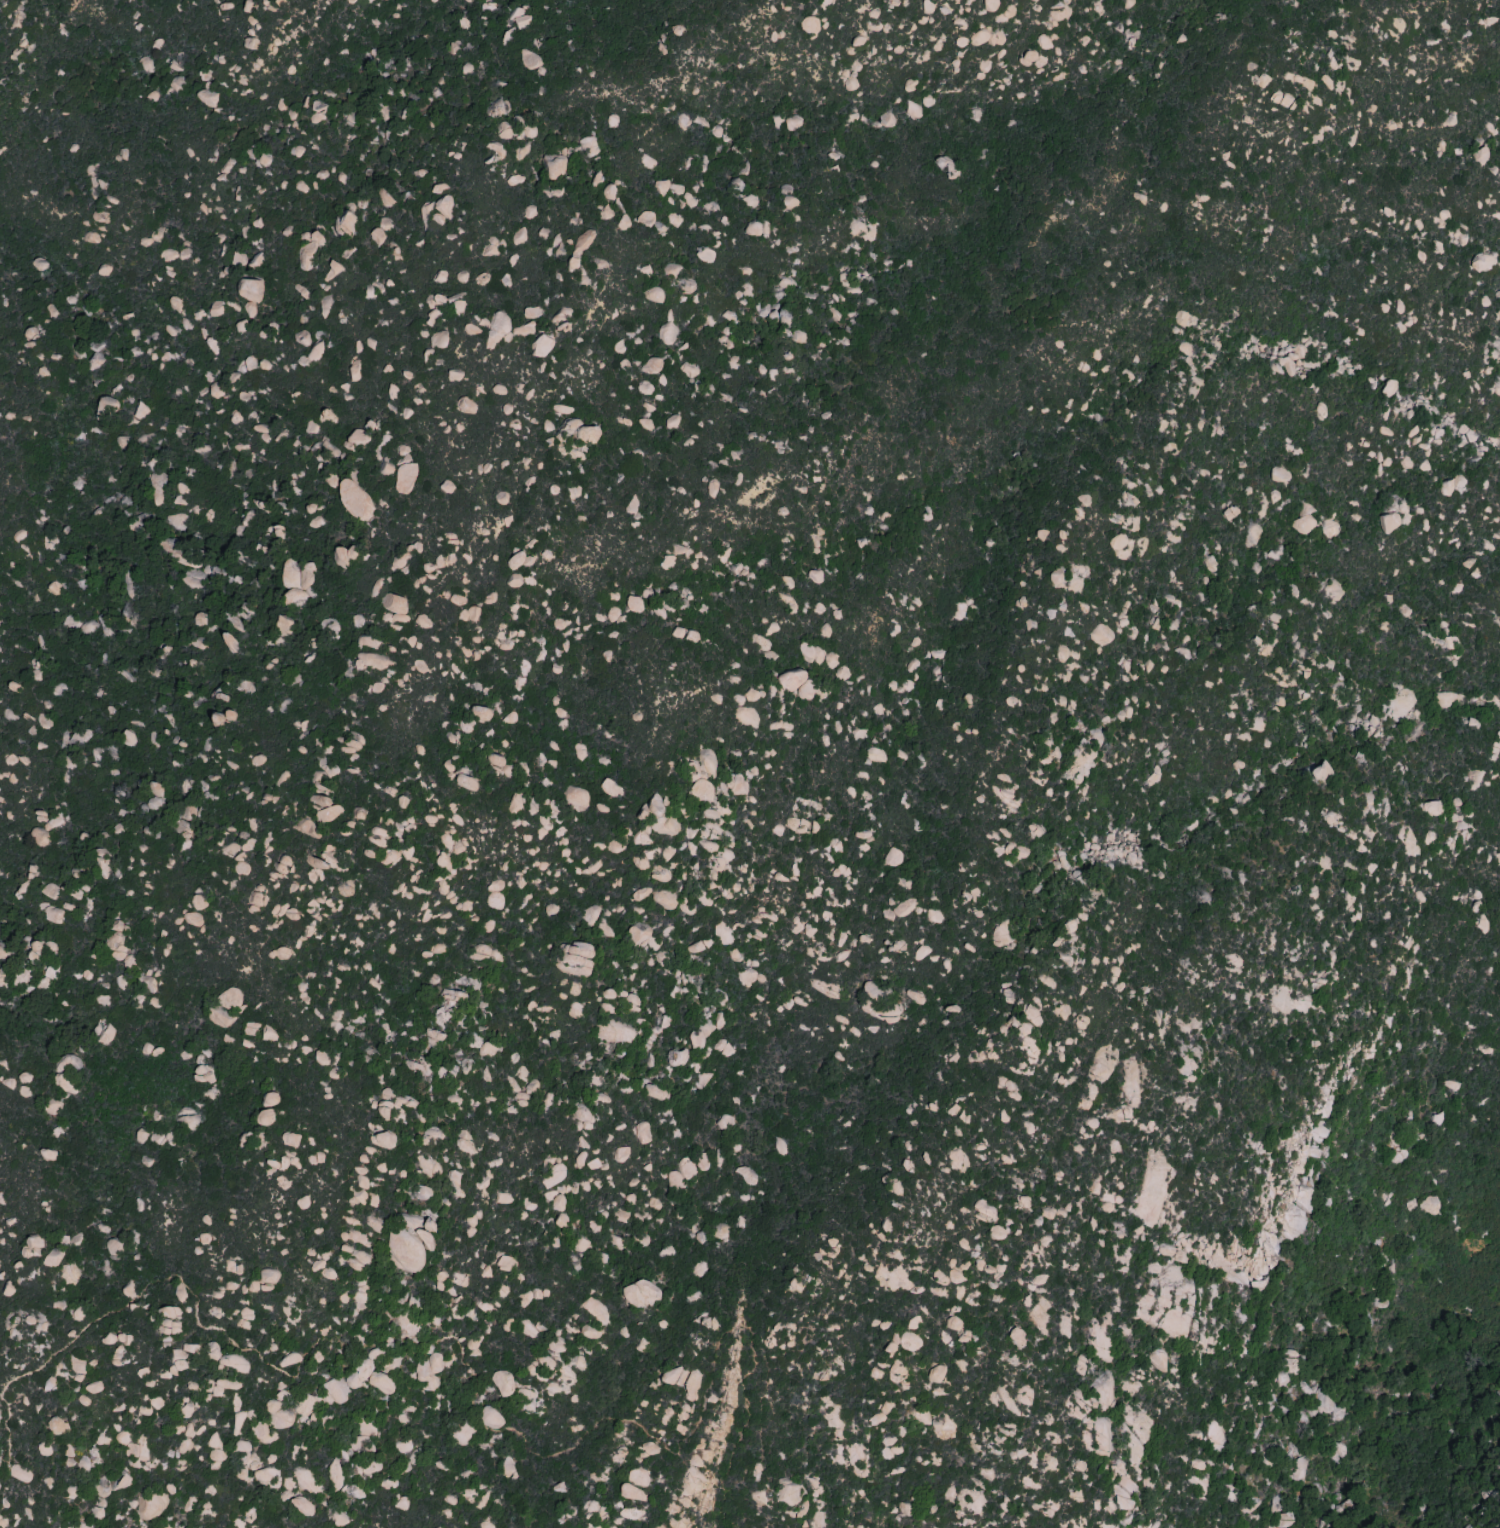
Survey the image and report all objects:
building: (520, 17)
building: (588, 146)
building: (1481, 155)
building: (660, 187)
building: (645, 217)
building: (1481, 262)
building: (248, 289)
building: (652, 294)
building: (542, 345)
building: (107, 407)
building: (136, 415)
building: (1390, 521)
building: (394, 602)
building: (634, 604)
building: (468, 614)
building: (284, 626)
building: (496, 759)
building: (466, 782)
building: (735, 784)
building: (699, 785)
building: (609, 788)
building: (197, 901)
building: (590, 914)
building: (228, 998)
building: (696, 1039)
building: (723, 1048)
building: (675, 1058)
building: (270, 1098)
building: (383, 1139)
building: (680, 1173)
building: (506, 1263)
building: (640, 1293)
building: (167, 1321)
building: (1019, 1336)
building: (210, 1350)
building: (180, 1356)
building: (1157, 1361)
building: (1080, 1365)
building: (428, 1367)
building: (937, 1372)
road: (471, 1375)
building: (490, 1417)
building: (281, 1418)
building: (1299, 1467)

